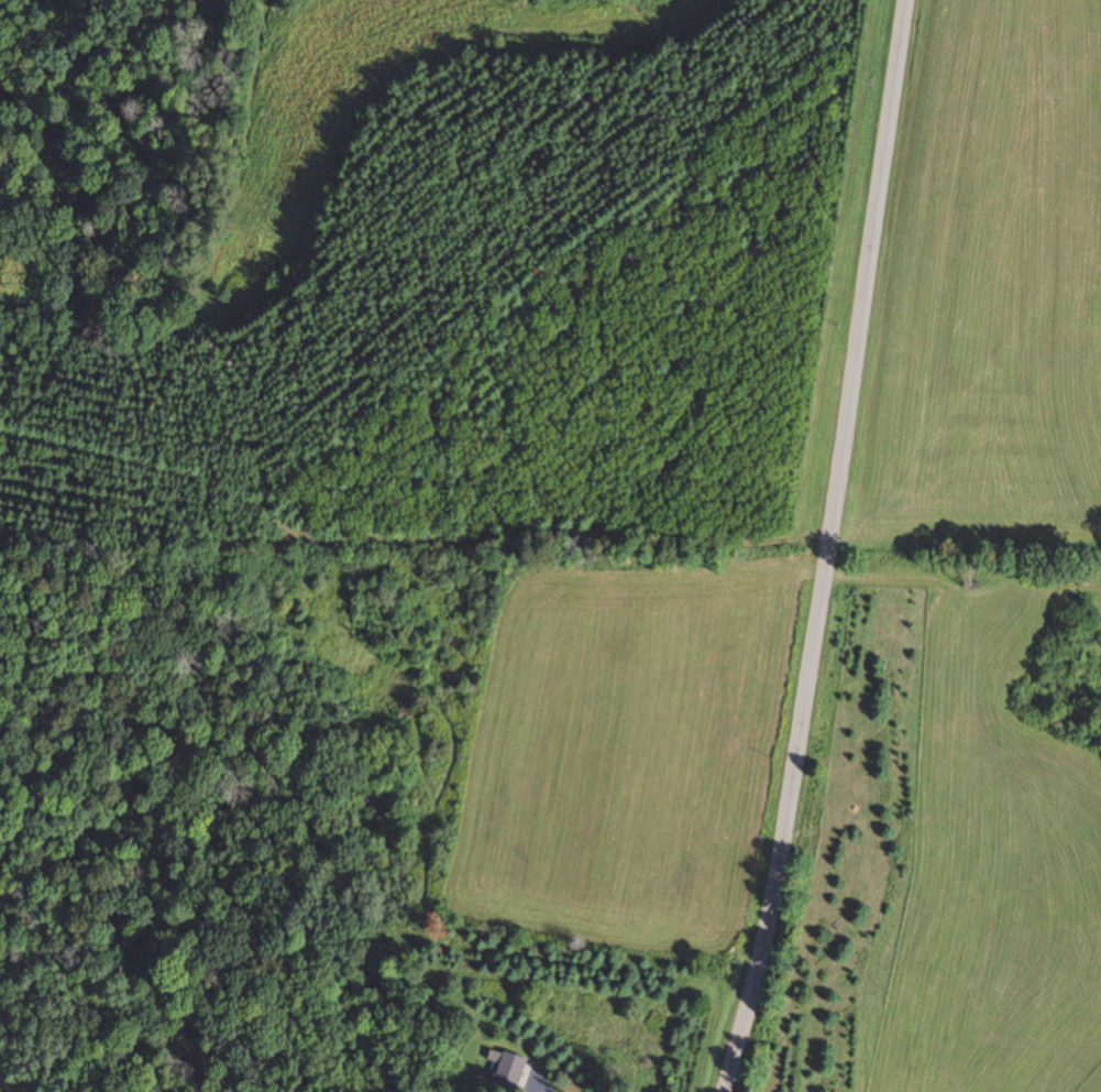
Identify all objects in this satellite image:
road: (826, 548)
building: (508, 1071)

